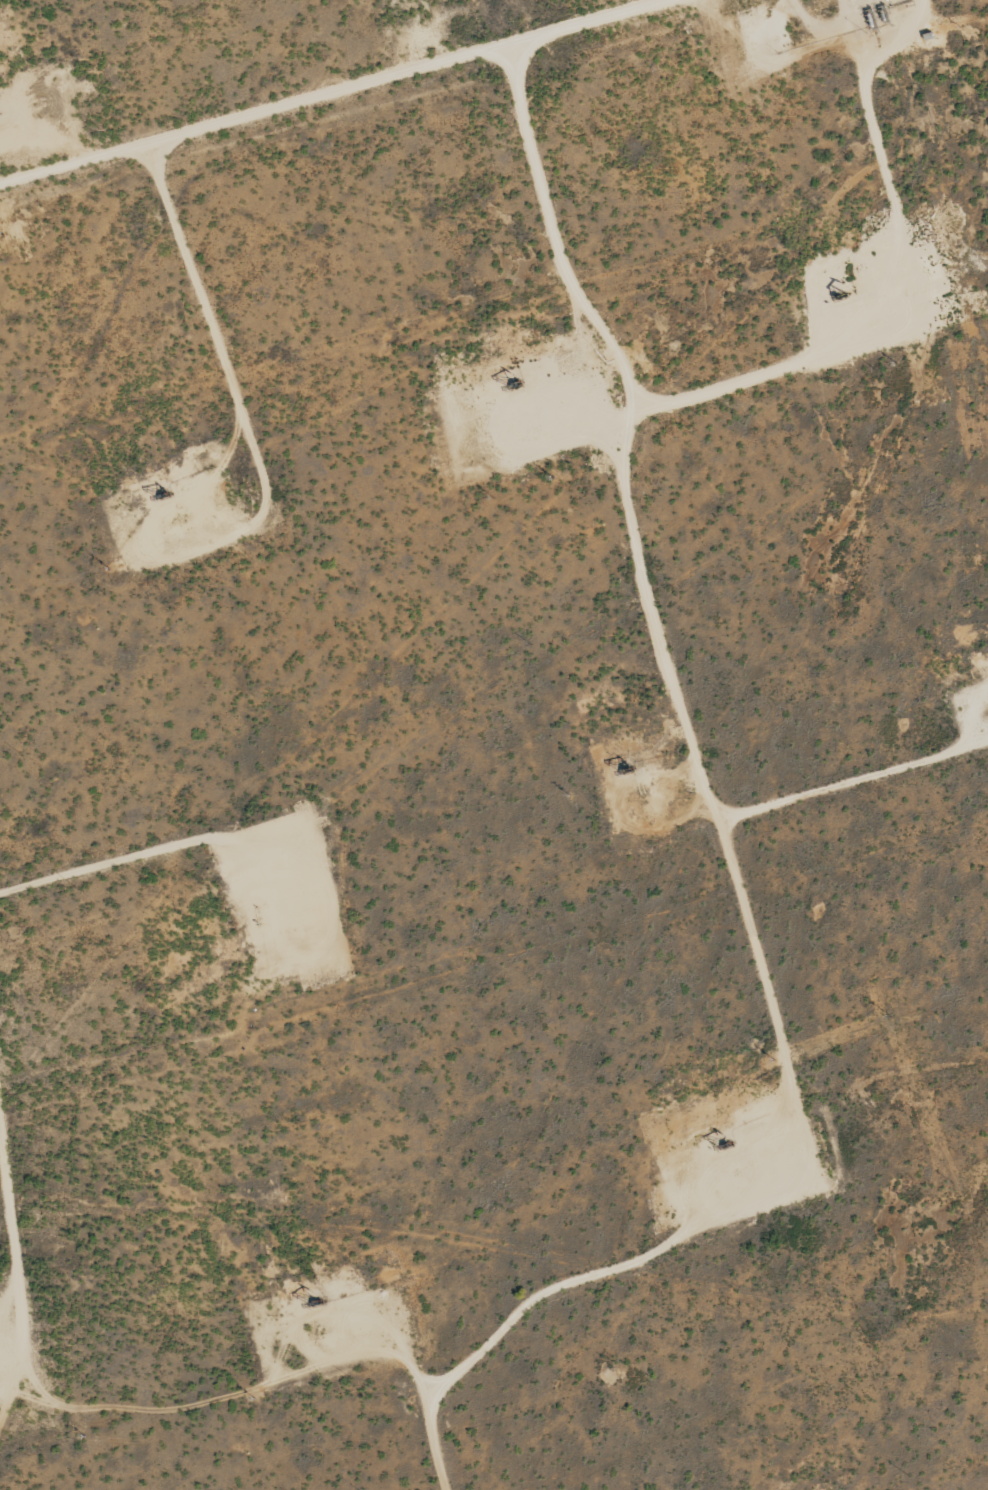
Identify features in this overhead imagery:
road: (329, 93)
road: (644, 556)
road: (16, 1296)

